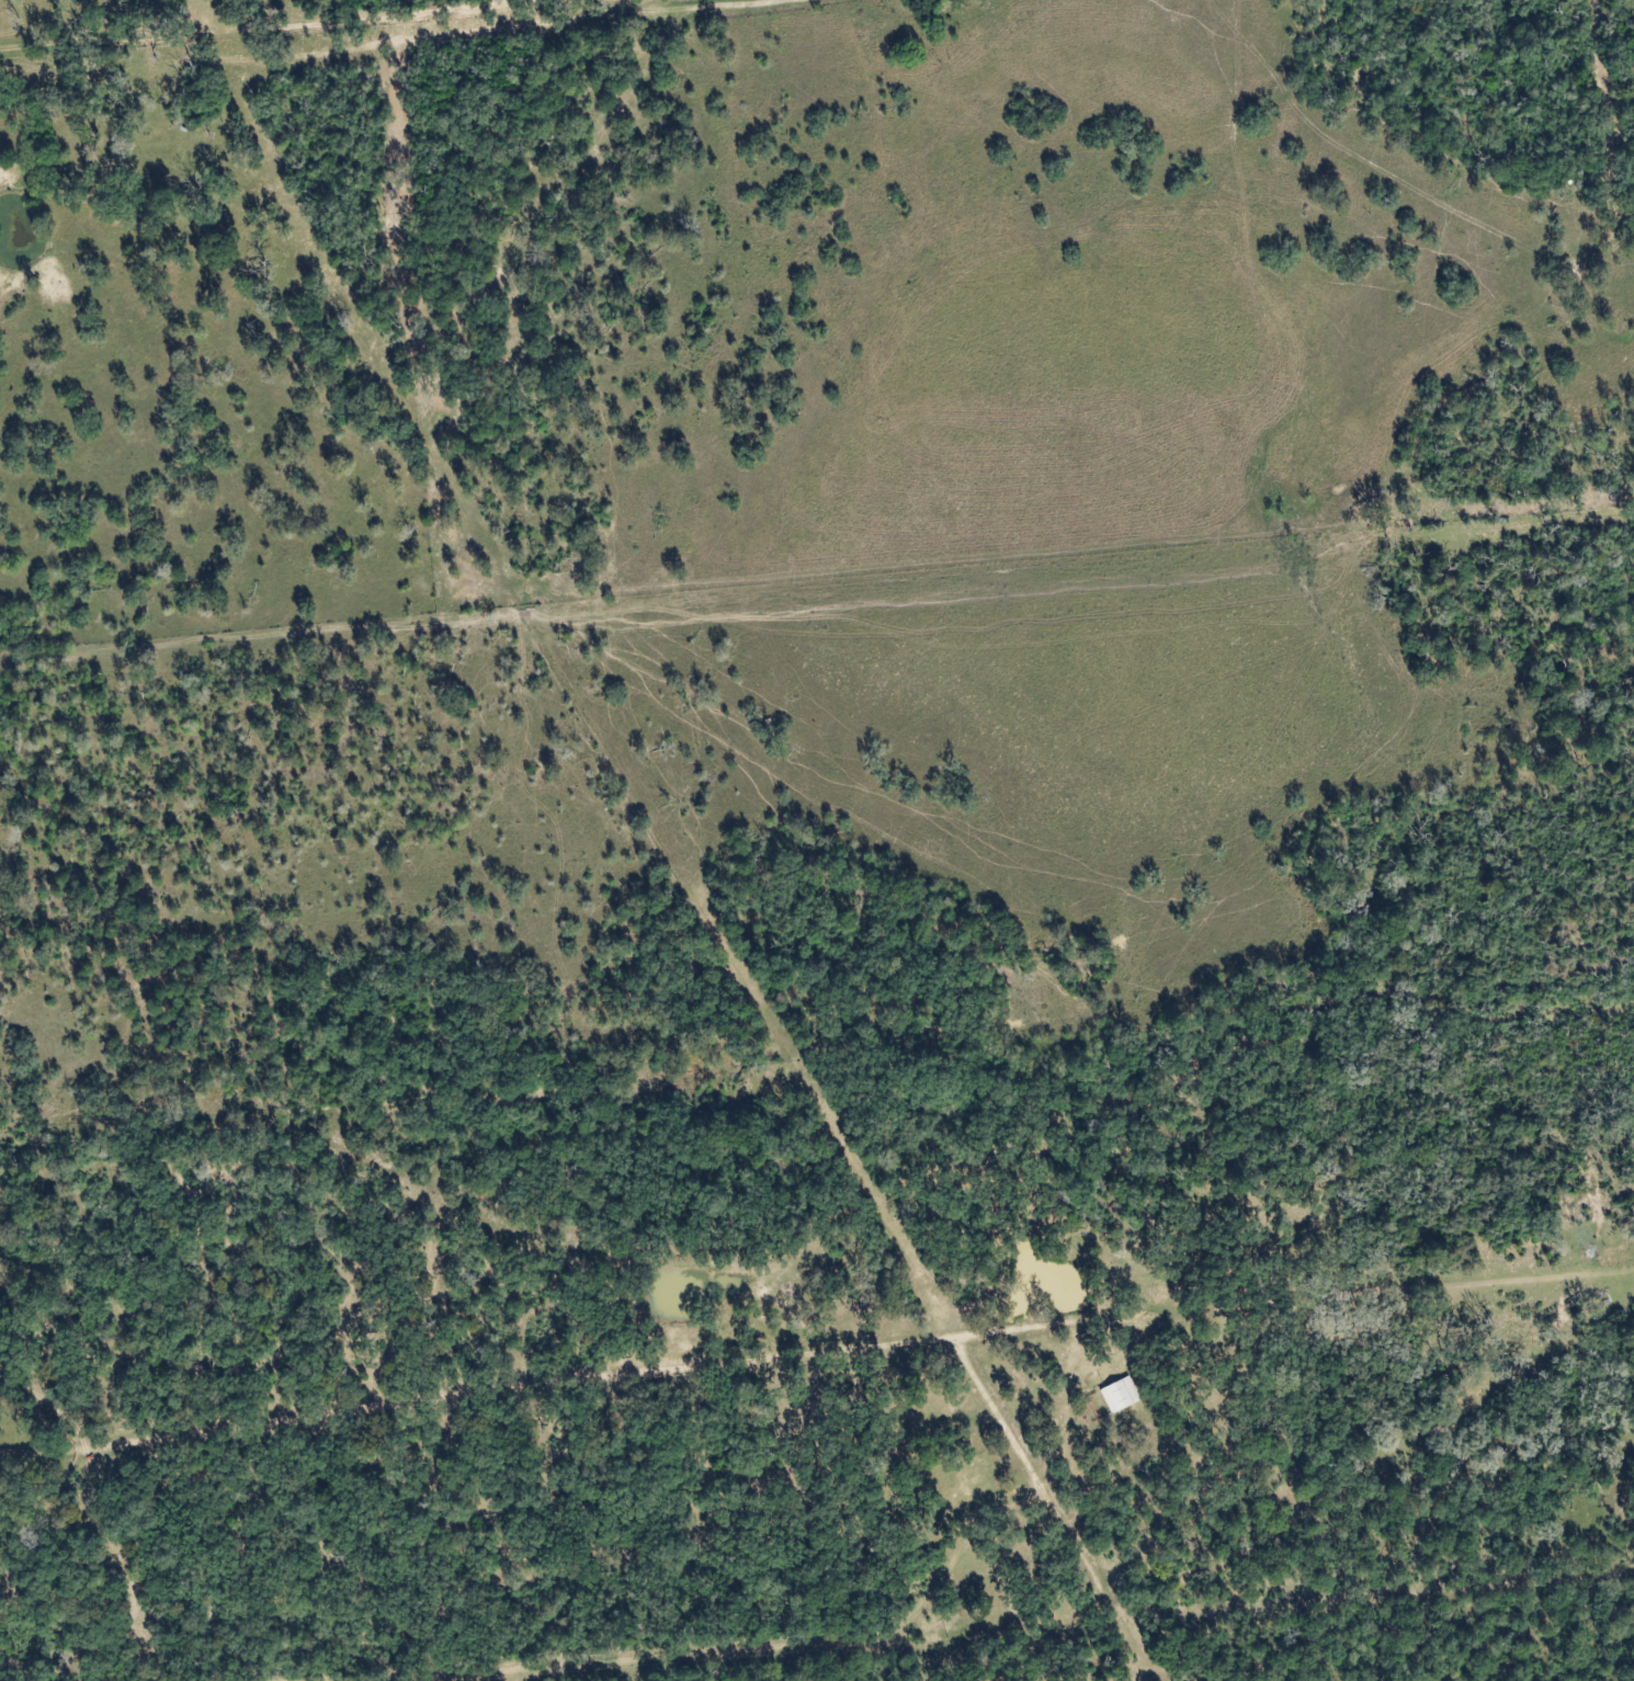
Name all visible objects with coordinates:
building: (1117, 1394)

